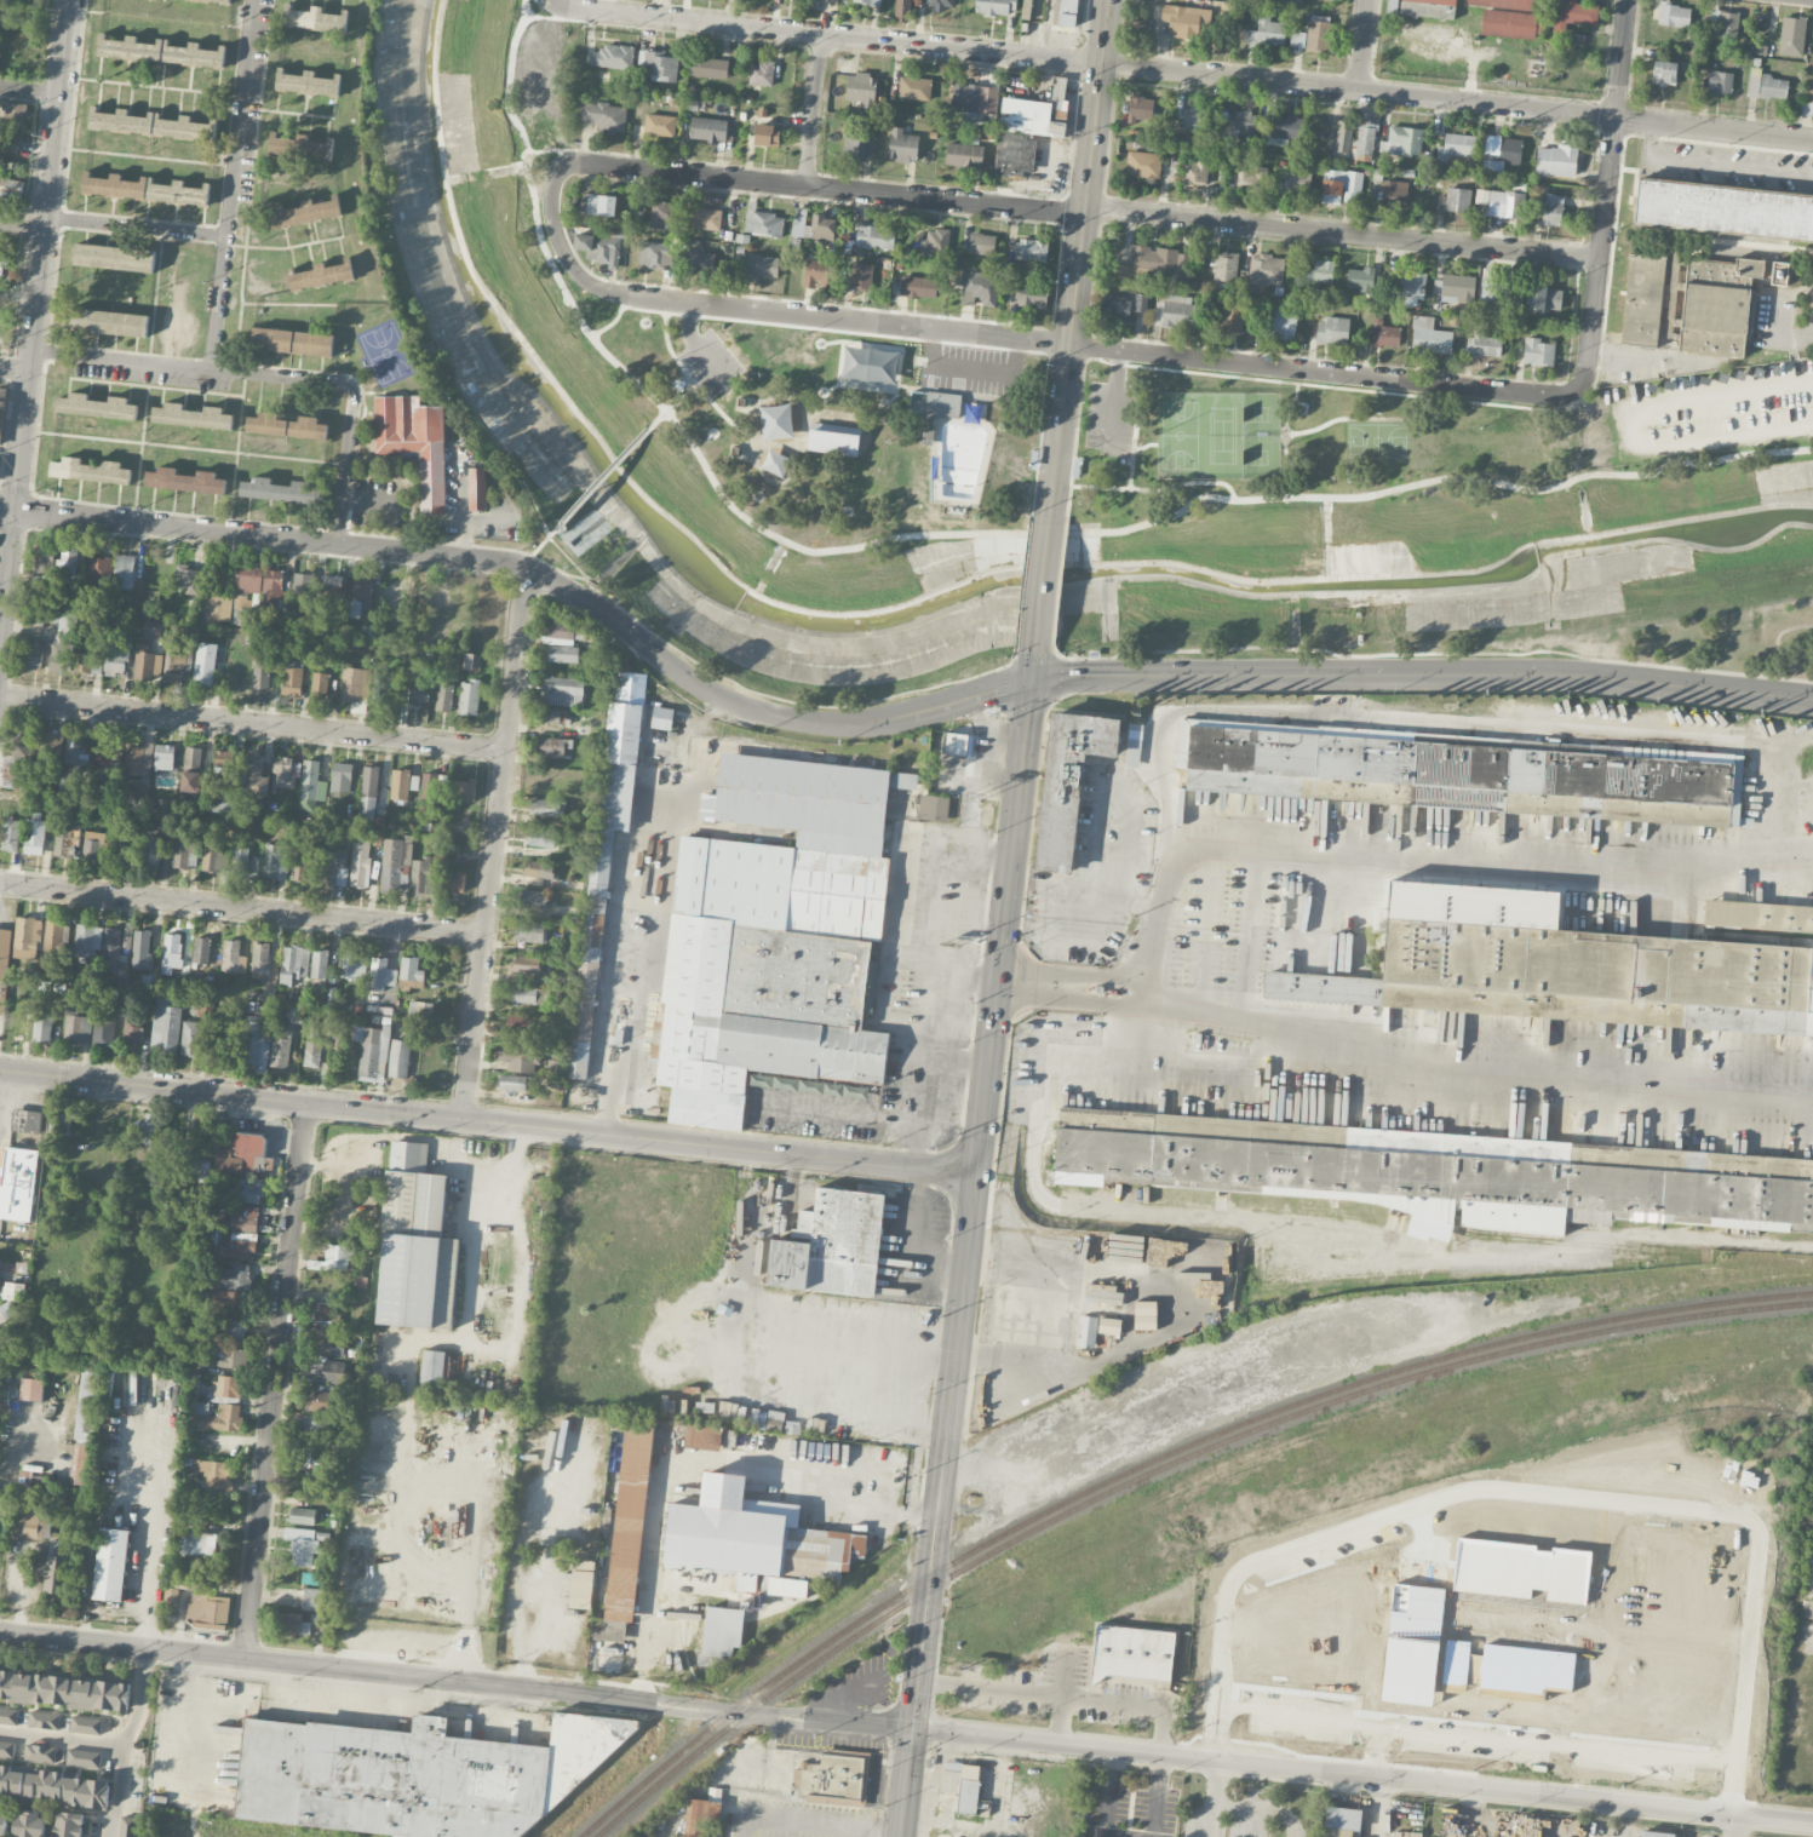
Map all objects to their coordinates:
road: (1812, 0)
building: (213, 1)
building: (867, 1)
building: (940, 4)
building: (1505, 4)
building: (996, 6)
building: (1392, 6)
building: (1429, 7)
building: (902, 10)
building: (1032, 10)
building: (1065, 12)
building: (1572, 15)
building: (1674, 15)
building: (315, 19)
building: (1187, 21)
building: (1725, 22)
building: (1513, 24)
building: (1267, 31)
building: (1318, 34)
building: (1791, 35)
building: (1297, 39)
road: (1365, 46)
building: (160, 52)
building: (613, 56)
building: (659, 64)
building: (708, 67)
building: (1537, 67)
road: (1178, 71)
building: (1664, 71)
building: (761, 73)
building: (1720, 81)
building: (308, 84)
building: (1767, 85)
road: (151, 87)
building: (860, 87)
building: (914, 87)
road: (30, 91)
building: (1808, 92)
building: (1141, 108)
building: (1806, 108)
road: (814, 111)
building: (1035, 111)
building: (604, 116)
road: (239, 117)
building: (1194, 117)
building: (659, 124)
building: (1241, 124)
building: (151, 125)
building: (1285, 126)
building: (707, 128)
building: (12, 130)
building: (765, 134)
building: (1343, 136)
building: (1365, 140)
building: (1402, 140)
building: (857, 144)
building: (902, 145)
building: (300, 147)
building: (1457, 149)
building: (1014, 153)
building: (1502, 153)
building: (964, 154)
building: (1556, 160)
building: (1143, 163)
road: (1717, 166)
building: (1195, 171)
building: (1252, 179)
building: (1296, 183)
building: (1339, 185)
road: (825, 189)
building: (11, 190)
building: (144, 190)
road: (1607, 191)
building: (1395, 194)
building: (1458, 200)
building: (1502, 202)
building: (598, 203)
building: (1551, 208)
building: (1723, 209)
building: (308, 212)
building: (662, 214)
building: (704, 217)
building: (798, 222)
building: (763, 223)
road: (136, 226)
building: (824, 228)
road: (22, 231)
road: (1343, 234)
building: (871, 237)
building: (935, 240)
building: (981, 242)
building: (598, 248)
building: (1031, 248)
building: (653, 253)
road: (41, 257)
road: (1079, 257)
building: (114, 258)
building: (701, 259)
building: (1147, 262)
building: (759, 265)
building: (1181, 265)
building: (2, 266)
building: (1224, 269)
building: (1266, 269)
building: (816, 271)
building: (1320, 271)
building: (1779, 272)
building: (861, 274)
building: (321, 275)
building: (1360, 280)
building: (1412, 281)
building: (918, 286)
building: (980, 288)
building: (1455, 288)
building: (1029, 295)
building: (1501, 295)
building: (1543, 299)
building: (1643, 299)
building: (1140, 302)
road: (218, 303)
building: (1716, 305)
building: (1115, 306)
building: (1175, 311)
building: (1232, 317)
road: (613, 321)
building: (108, 322)
building: (1283, 323)
building: (1332, 331)
road: (432, 333)
building: (1384, 334)
building: (1430, 338)
road: (1022, 340)
building: (292, 343)
building: (1482, 344)
road: (669, 346)
building: (1538, 351)
park: (499, 352)
road: (695, 352)
road: (1657, 356)
park: (871, 364)
parking lot: (707, 366)
building: (868, 368)
road: (973, 368)
parking lot: (970, 369)
road: (15, 371)
road: (272, 375)
road: (688, 390)
building: (937, 400)
building: (740, 401)
building: (96, 407)
road: (810, 412)
building: (1, 413)
park: (1256, 413)
building: (191, 417)
road: (659, 418)
road: (1346, 418)
parking lot: (1111, 419)
building: (774, 421)
road: (1111, 423)
building: (286, 426)
park: (827, 426)
road: (1284, 432)
park: (1178, 435)
park: (1218, 435)
building: (832, 438)
park: (1377, 440)
building: (414, 442)
building: (734, 449)
park: (1290, 449)
building: (956, 454)
road: (1132, 455)
park: (1256, 457)
building: (775, 463)
building: (90, 471)
road: (607, 473)
building: (185, 481)
building: (477, 489)
road: (1147, 489)
building: (280, 492)
road: (6, 512)
road: (983, 532)
road: (543, 543)
road: (344, 545)
building: (44, 559)
building: (67, 564)
building: (98, 570)
road: (6, 573)
building: (124, 573)
building: (188, 579)
road: (1042, 584)
building: (246, 586)
building: (271, 587)
building: (304, 590)
building: (334, 591)
building: (361, 597)
building: (421, 598)
building: (218, 610)
building: (562, 630)
building: (153, 631)
building: (59, 636)
building: (563, 654)
building: (31, 656)
building: (116, 659)
building: (87, 661)
building: (472, 661)
building: (144, 662)
building: (205, 665)
building: (263, 668)
road: (1422, 674)
building: (292, 678)
traffic signals: (1031, 682)
building: (320, 685)
building: (355, 685)
building: (631, 687)
building: (419, 688)
building: (383, 690)
building: (563, 690)
building: (444, 696)
building: (469, 698)
building: (553, 716)
building: (661, 717)
road: (252, 723)
road: (833, 724)
building: (1135, 731)
building: (1388, 734)
building: (954, 744)
building: (553, 746)
building: (48, 751)
building: (108, 753)
building: (138, 758)
building: (165, 758)
building: (16, 760)
building: (191, 770)
building: (254, 773)
building: (286, 773)
building: (1450, 774)
building: (342, 777)
building: (903, 780)
building: (414, 782)
building: (1068, 782)
building: (224, 783)
building: (400, 785)
building: (311, 786)
building: (434, 787)
road: (1164, 788)
building: (463, 790)
building: (368, 793)
building: (547, 806)
building: (933, 808)
building: (11, 834)
building: (34, 837)
building: (540, 837)
building: (67, 840)
road: (494, 844)
building: (93, 845)
building: (121, 853)
building: (153, 853)
building: (185, 854)
building: (362, 857)
building: (216, 859)
building: (606, 859)
building: (240, 861)
building: (304, 861)
building: (275, 862)
building: (395, 862)
building: (335, 868)
building: (538, 869)
building: (424, 878)
building: (453, 883)
building: (549, 883)
building: (534, 897)
road: (242, 908)
road: (991, 912)
building: (1759, 915)
building: (529, 931)
building: (127, 936)
building: (53, 937)
building: (773, 937)
building: (25, 938)
building: (87, 941)
building: (111, 945)
building: (142, 949)
building: (173, 951)
building: (201, 951)
building: (233, 958)
building: (262, 960)
building: (4, 964)
building: (293, 964)
building: (319, 965)
building: (354, 966)
building: (527, 966)
building: (1553, 970)
building: (411, 971)
road: (1147, 971)
building: (381, 975)
road: (982, 976)
traffic signals: (999, 978)
road: (1072, 984)
road: (609, 991)
building: (268, 993)
building: (529, 994)
road: (960, 1004)
building: (205, 1010)
building: (420, 1010)
building: (293, 1015)
building: (524, 1023)
building: (15, 1024)
building: (42, 1027)
building: (76, 1027)
building: (166, 1028)
building: (127, 1032)
building: (103, 1034)
building: (1513, 1034)
building: (190, 1038)
building: (224, 1039)
building: (254, 1045)
building: (280, 1047)
building: (314, 1049)
building: (372, 1052)
building: (520, 1057)
building: (398, 1058)
building: (556, 1067)
building: (514, 1083)
building: (821, 1086)
road: (966, 1108)
road: (843, 1112)
building: (25, 1121)
road: (489, 1121)
building: (59, 1125)
building: (156, 1131)
road: (424, 1139)
building: (243, 1156)
building: (200, 1171)
building: (1442, 1172)
building: (18, 1184)
building: (248, 1190)
road: (1055, 1205)
building: (243, 1219)
railway: (1714, 1228)
railway: (1473, 1233)
railway: (1714, 1240)
building: (415, 1245)
building: (830, 1245)
road: (969, 1245)
building: (241, 1246)
railway: (1628, 1247)
building: (0, 1259)
building: (333, 1259)
building: (234, 1276)
building: (13, 1291)
building: (229, 1304)
building: (325, 1313)
building: (332, 1327)
building: (233, 1330)
building: (1086, 1331)
building: (230, 1357)
building: (327, 1371)
building: (431, 1372)
road: (272, 1380)
building: (228, 1387)
building: (31, 1390)
building: (317, 1401)
building: (90, 1402)
building: (218, 1418)
building: (316, 1428)
building: (704, 1436)
building: (309, 1459)
railway: (1151, 1460)
building: (81, 1464)
road: (718, 1465)
railway: (1160, 1468)
building: (212, 1475)
road: (465, 1480)
road: (1515, 1489)
building: (302, 1516)
building: (752, 1537)
building: (199, 1544)
building: (302, 1545)
road: (153, 1549)
building: (110, 1565)
building: (53, 1568)
building: (580, 1584)
building: (787, 1588)
building: (315, 1600)
building: (207, 1612)
building: (288, 1624)
building: (609, 1635)
building: (719, 1635)
building: (1131, 1653)
road: (639, 1659)
road: (142, 1676)
building: (63, 1690)
road: (637, 1692)
road: (1060, 1697)
building: (8, 1716)
building: (44, 1720)
road: (1060, 1721)
building: (86, 1724)
road: (906, 1728)
road: (1479, 1733)
road: (63, 1740)
building: (6, 1750)
road: (1377, 1750)
building: (40, 1753)
building: (84, 1758)
road: (119, 1768)
building: (417, 1775)
building: (831, 1779)
building: (10, 1783)
building: (962, 1784)
road: (1737, 1787)
building: (65, 1789)
road: (1154, 1796)
road: (1108, 1797)
road: (1215, 1798)
road: (1471, 1798)
road: (1263, 1807)
road: (1378, 1807)
road: (1494, 1813)
building: (700, 1816)
building: (1, 1821)
building: (1341, 1821)
building: (29, 1822)
building: (65, 1825)
road: (816, 1826)
road: (1733, 1826)
building: (126, 1827)
building: (1654, 1833)

